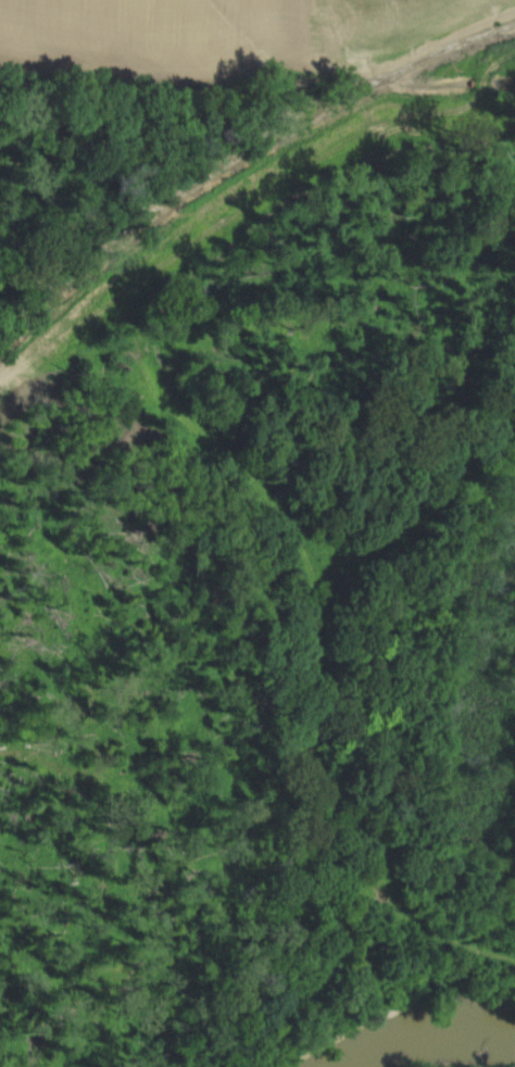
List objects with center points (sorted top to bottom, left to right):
river: (429, 1037)

